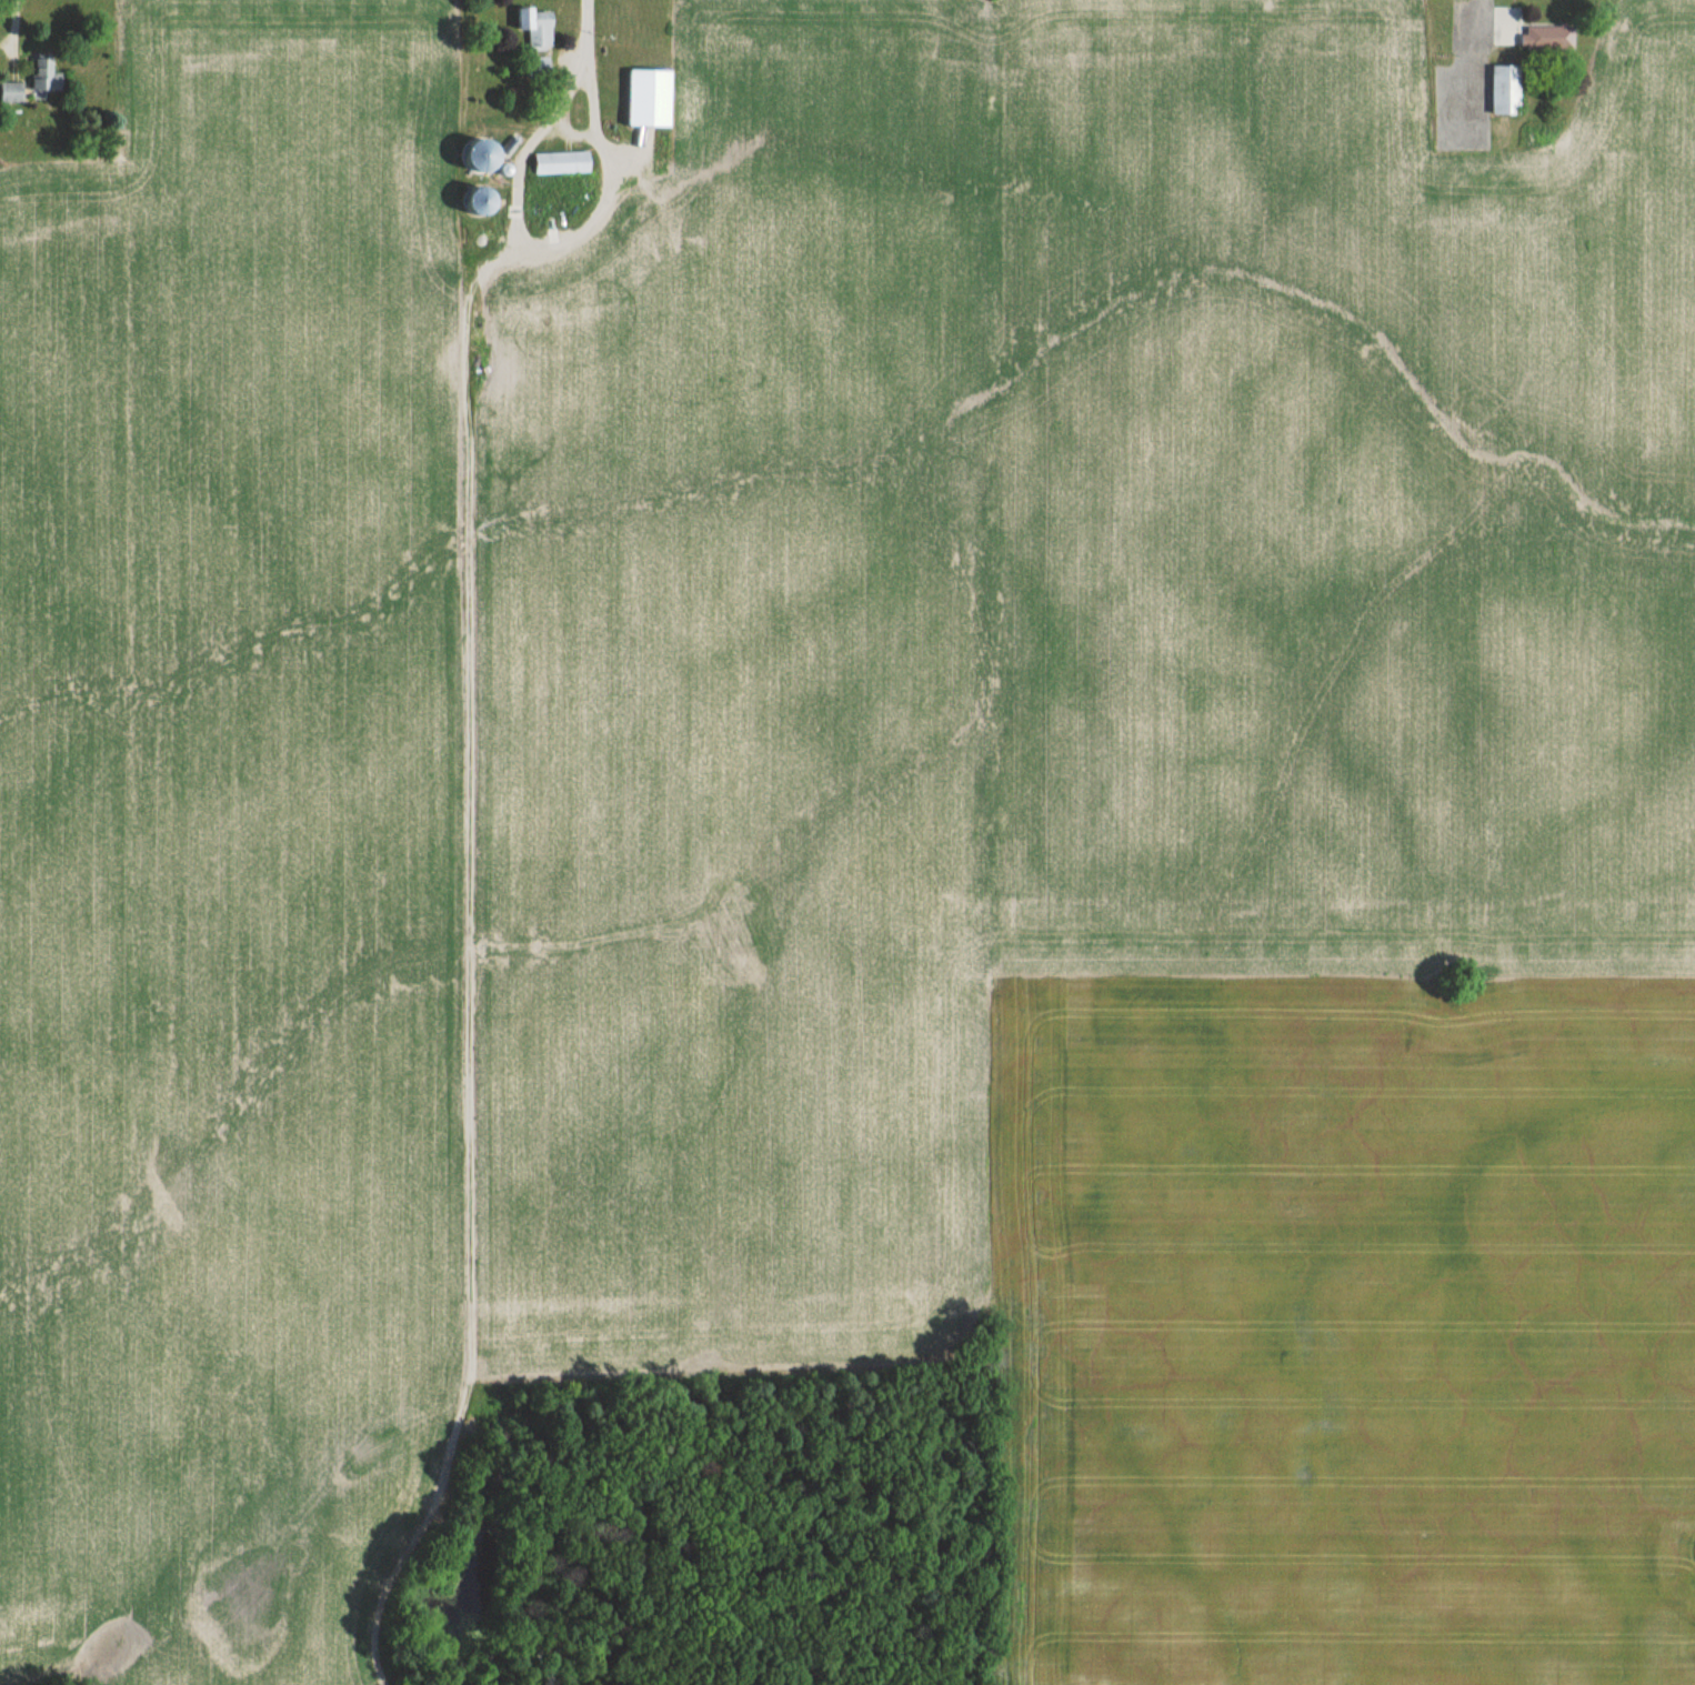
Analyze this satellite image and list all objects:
building: (539, 27)
road: (585, 27)
building: (1554, 37)
building: (541, 64)
building: (50, 73)
building: (1510, 89)
building: (13, 91)
building: (653, 97)
building: (1455, 98)
building: (481, 142)
building: (564, 161)
building: (477, 168)
road: (540, 249)

